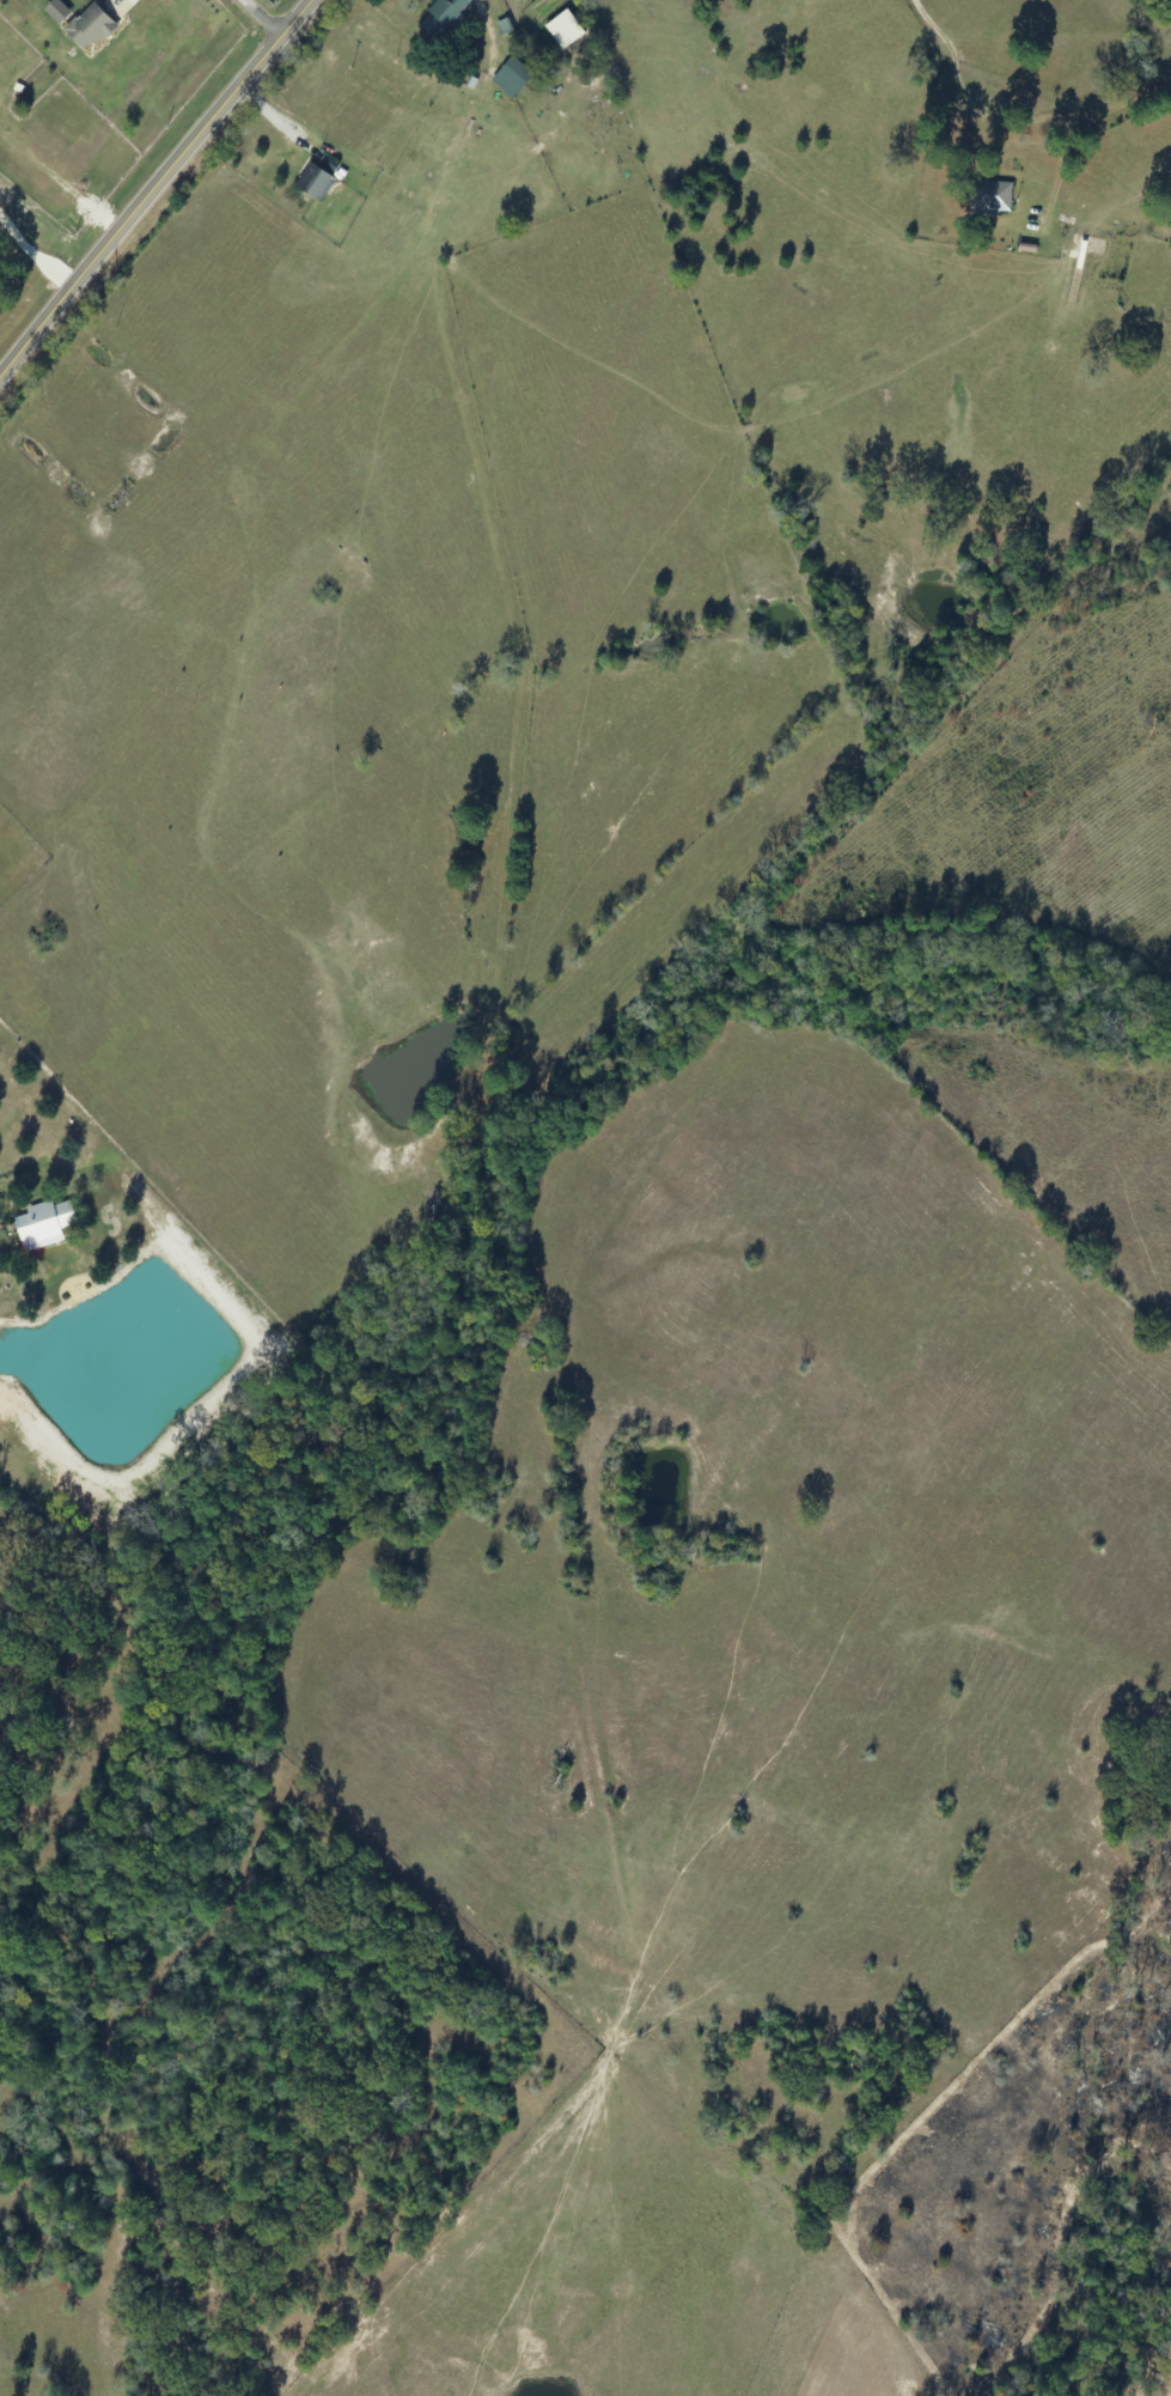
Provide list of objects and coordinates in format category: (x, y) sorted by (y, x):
building: (57, 13)
building: (446, 14)
building: (90, 29)
building: (505, 29)
building: (565, 31)
road: (1096, 35)
road: (221, 44)
building: (512, 79)
building: (315, 184)
road: (155, 190)
building: (993, 197)
building: (44, 1226)
road: (596, 1237)

